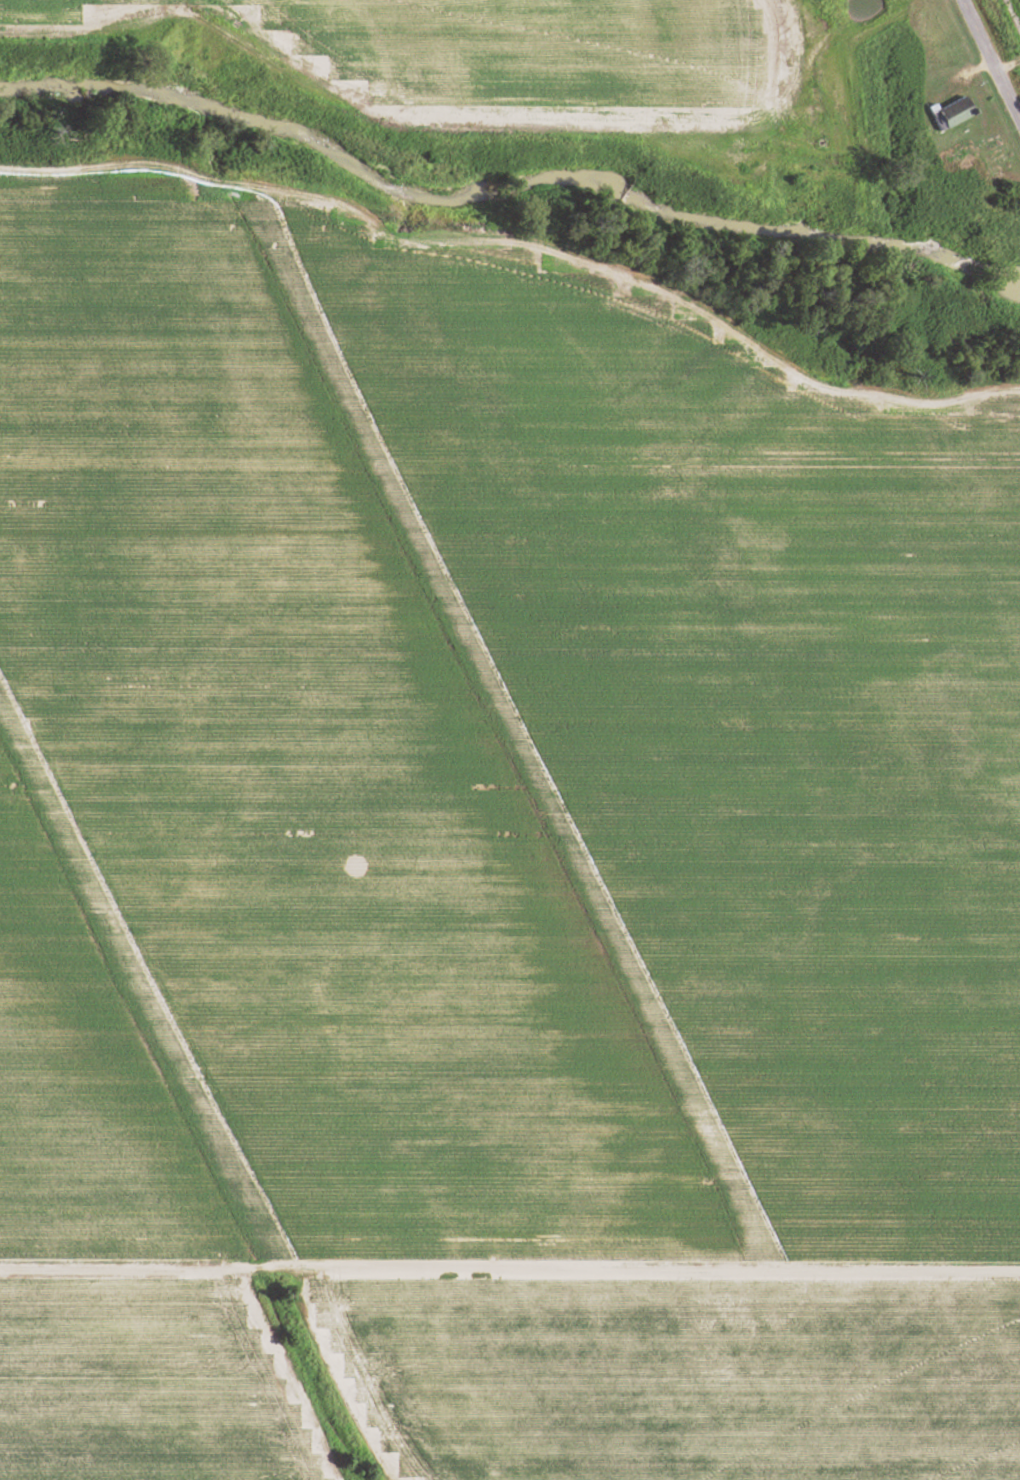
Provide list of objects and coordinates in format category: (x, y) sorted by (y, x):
railway: (1012, 15)
road: (987, 63)
road: (1006, 67)
building: (949, 113)
road: (524, 242)
road: (509, 1269)

